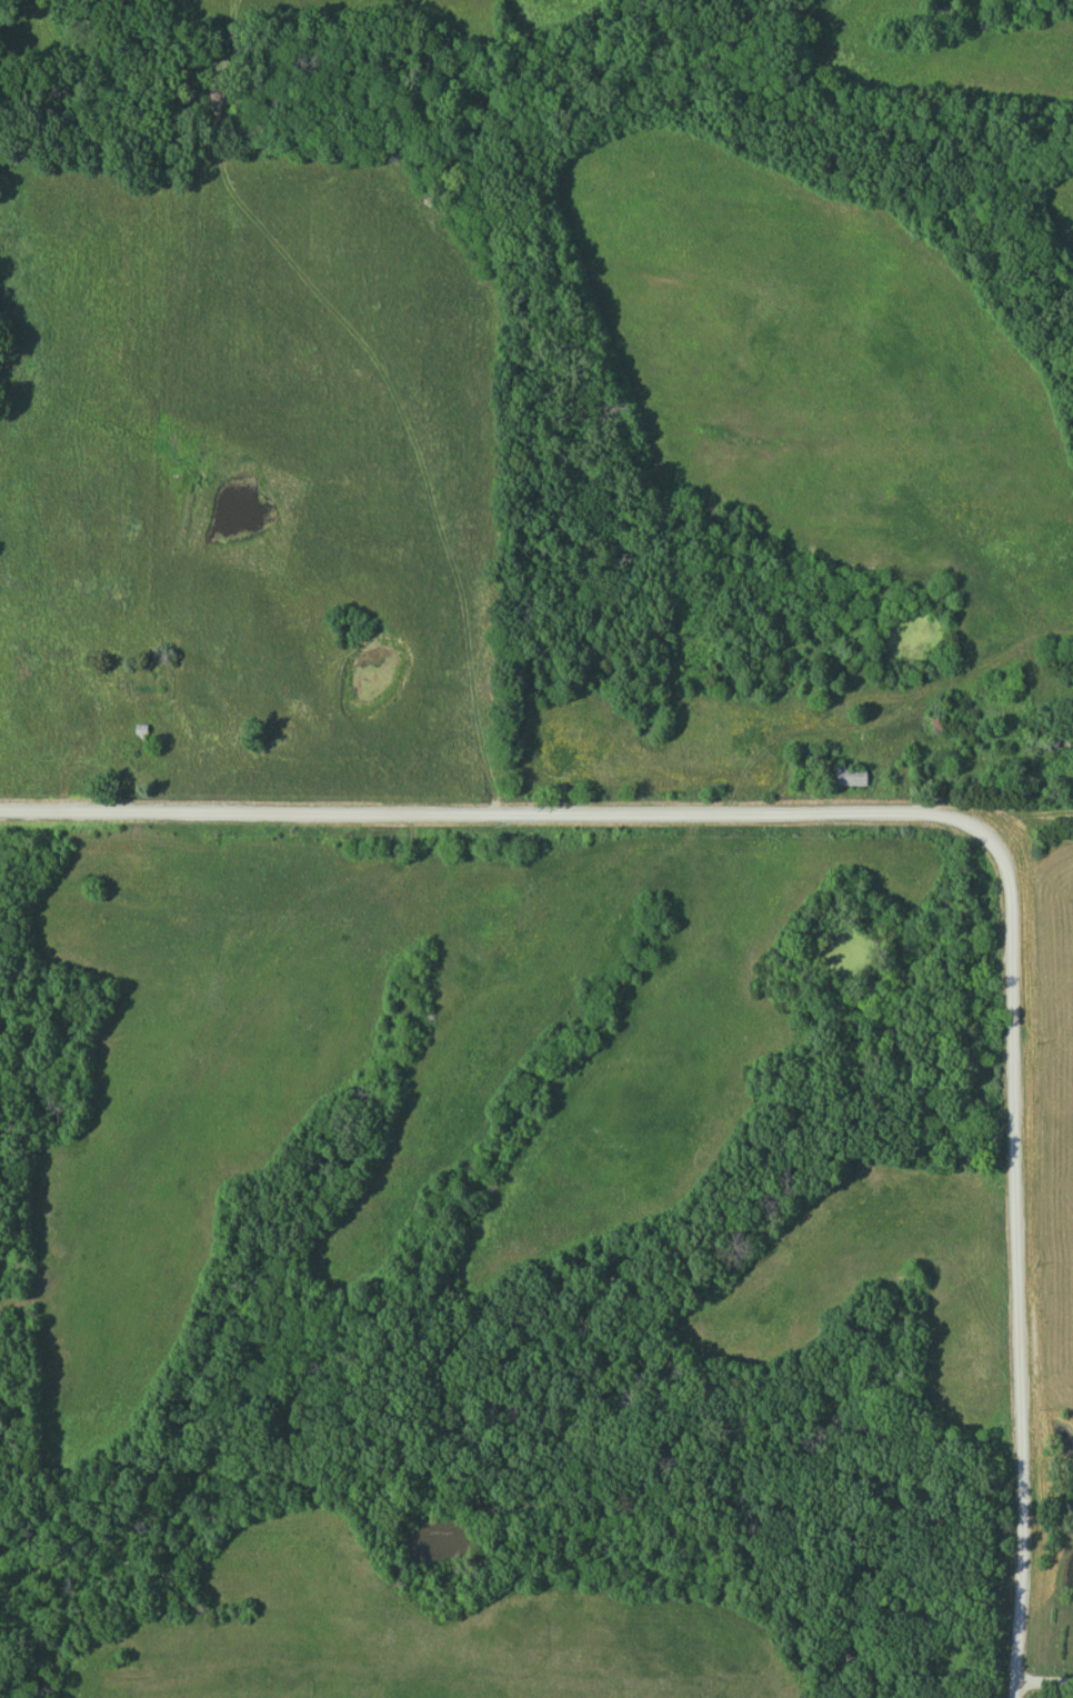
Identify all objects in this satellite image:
building: (852, 778)
road: (1009, 816)
road: (930, 817)
road: (1045, 1676)

